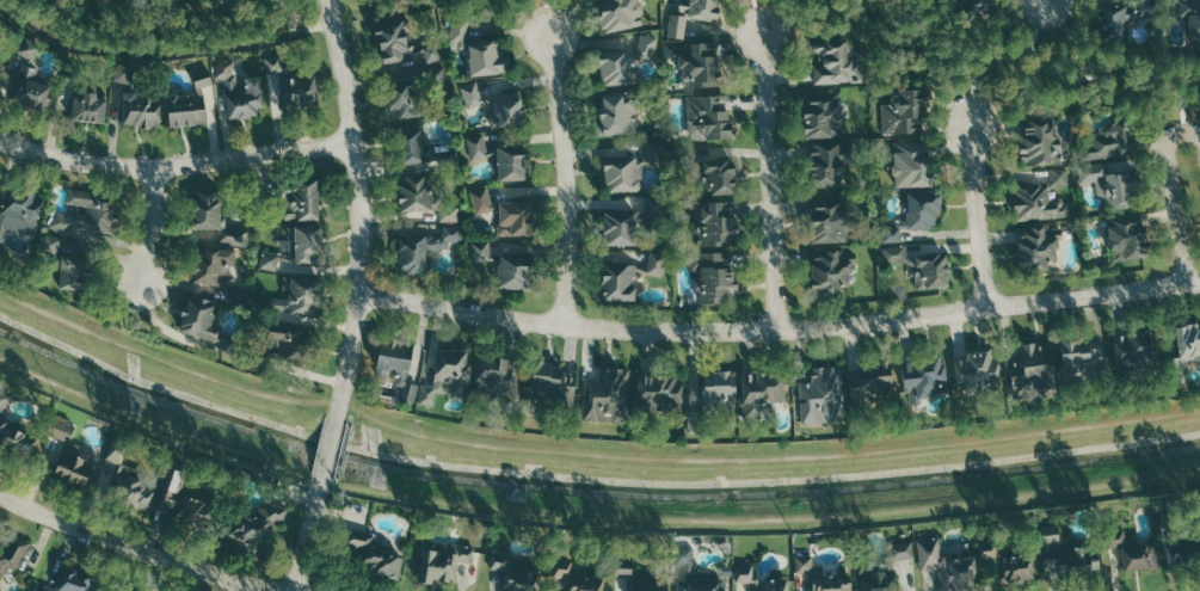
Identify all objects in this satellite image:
road: (197, 5)
building: (972, 6)
building: (620, 14)
building: (693, 14)
building: (1192, 16)
building: (1121, 17)
road: (548, 19)
road: (759, 19)
road: (1036, 26)
building: (461, 31)
building: (392, 41)
building: (648, 44)
building: (30, 48)
building: (431, 54)
road: (1033, 56)
building: (0, 57)
building: (487, 59)
building: (836, 61)
building: (273, 63)
building: (702, 64)
building: (616, 67)
building: (125, 73)
building: (438, 75)
road: (973, 80)
building: (31, 86)
building: (240, 90)
building: (300, 90)
building: (405, 103)
building: (190, 104)
building: (497, 104)
road: (1182, 104)
building: (90, 107)
building: (141, 110)
building: (905, 112)
building: (619, 115)
building: (824, 116)
building: (709, 117)
building: (1041, 142)
building: (1110, 142)
building: (413, 143)
building: (478, 146)
building: (512, 162)
building: (913, 162)
building: (826, 164)
road: (174, 166)
building: (719, 176)
road: (565, 181)
road: (771, 181)
building: (1112, 185)
building: (414, 192)
road: (1173, 195)
building: (1042, 198)
building: (482, 199)
building: (304, 201)
road: (362, 208)
building: (20, 211)
building: (87, 214)
building: (450, 214)
building: (917, 215)
road: (980, 216)
building: (516, 218)
building: (216, 220)
building: (830, 222)
road: (150, 223)
building: (718, 224)
building: (620, 229)
building: (1127, 236)
building: (308, 245)
building: (50, 246)
building: (1040, 246)
building: (424, 248)
building: (482, 252)
building: (270, 260)
building: (287, 263)
building: (657, 263)
building: (214, 266)
building: (922, 266)
building: (832, 269)
building: (73, 271)
building: (515, 271)
building: (716, 278)
building: (619, 282)
building: (297, 296)
building: (202, 320)
road: (781, 325)
building: (290, 343)
building: (1136, 351)
building: (1183, 352)
road: (158, 358)
building: (1085, 359)
building: (398, 363)
building: (1032, 370)
building: (923, 373)
building: (977, 373)
building: (448, 375)
building: (498, 378)
building: (869, 384)
building: (552, 389)
building: (660, 389)
building: (821, 390)
building: (762, 392)
building: (607, 394)
building: (712, 399)
road: (340, 415)
road: (150, 419)
building: (13, 430)
road: (330, 451)
road: (779, 456)
building: (73, 469)
road: (325, 476)
building: (130, 480)
building: (187, 505)
road: (771, 519)
building: (258, 523)
road: (307, 538)
road: (142, 547)
building: (1132, 547)
building: (1183, 549)
building: (1069, 552)
building: (12, 553)
building: (374, 554)
building: (443, 561)
building: (1008, 561)
building: (891, 564)
building: (948, 566)
building: (515, 571)
building: (824, 574)
building: (638, 575)
building: (697, 575)
building: (578, 577)
building: (776, 578)
building: (75, 581)

